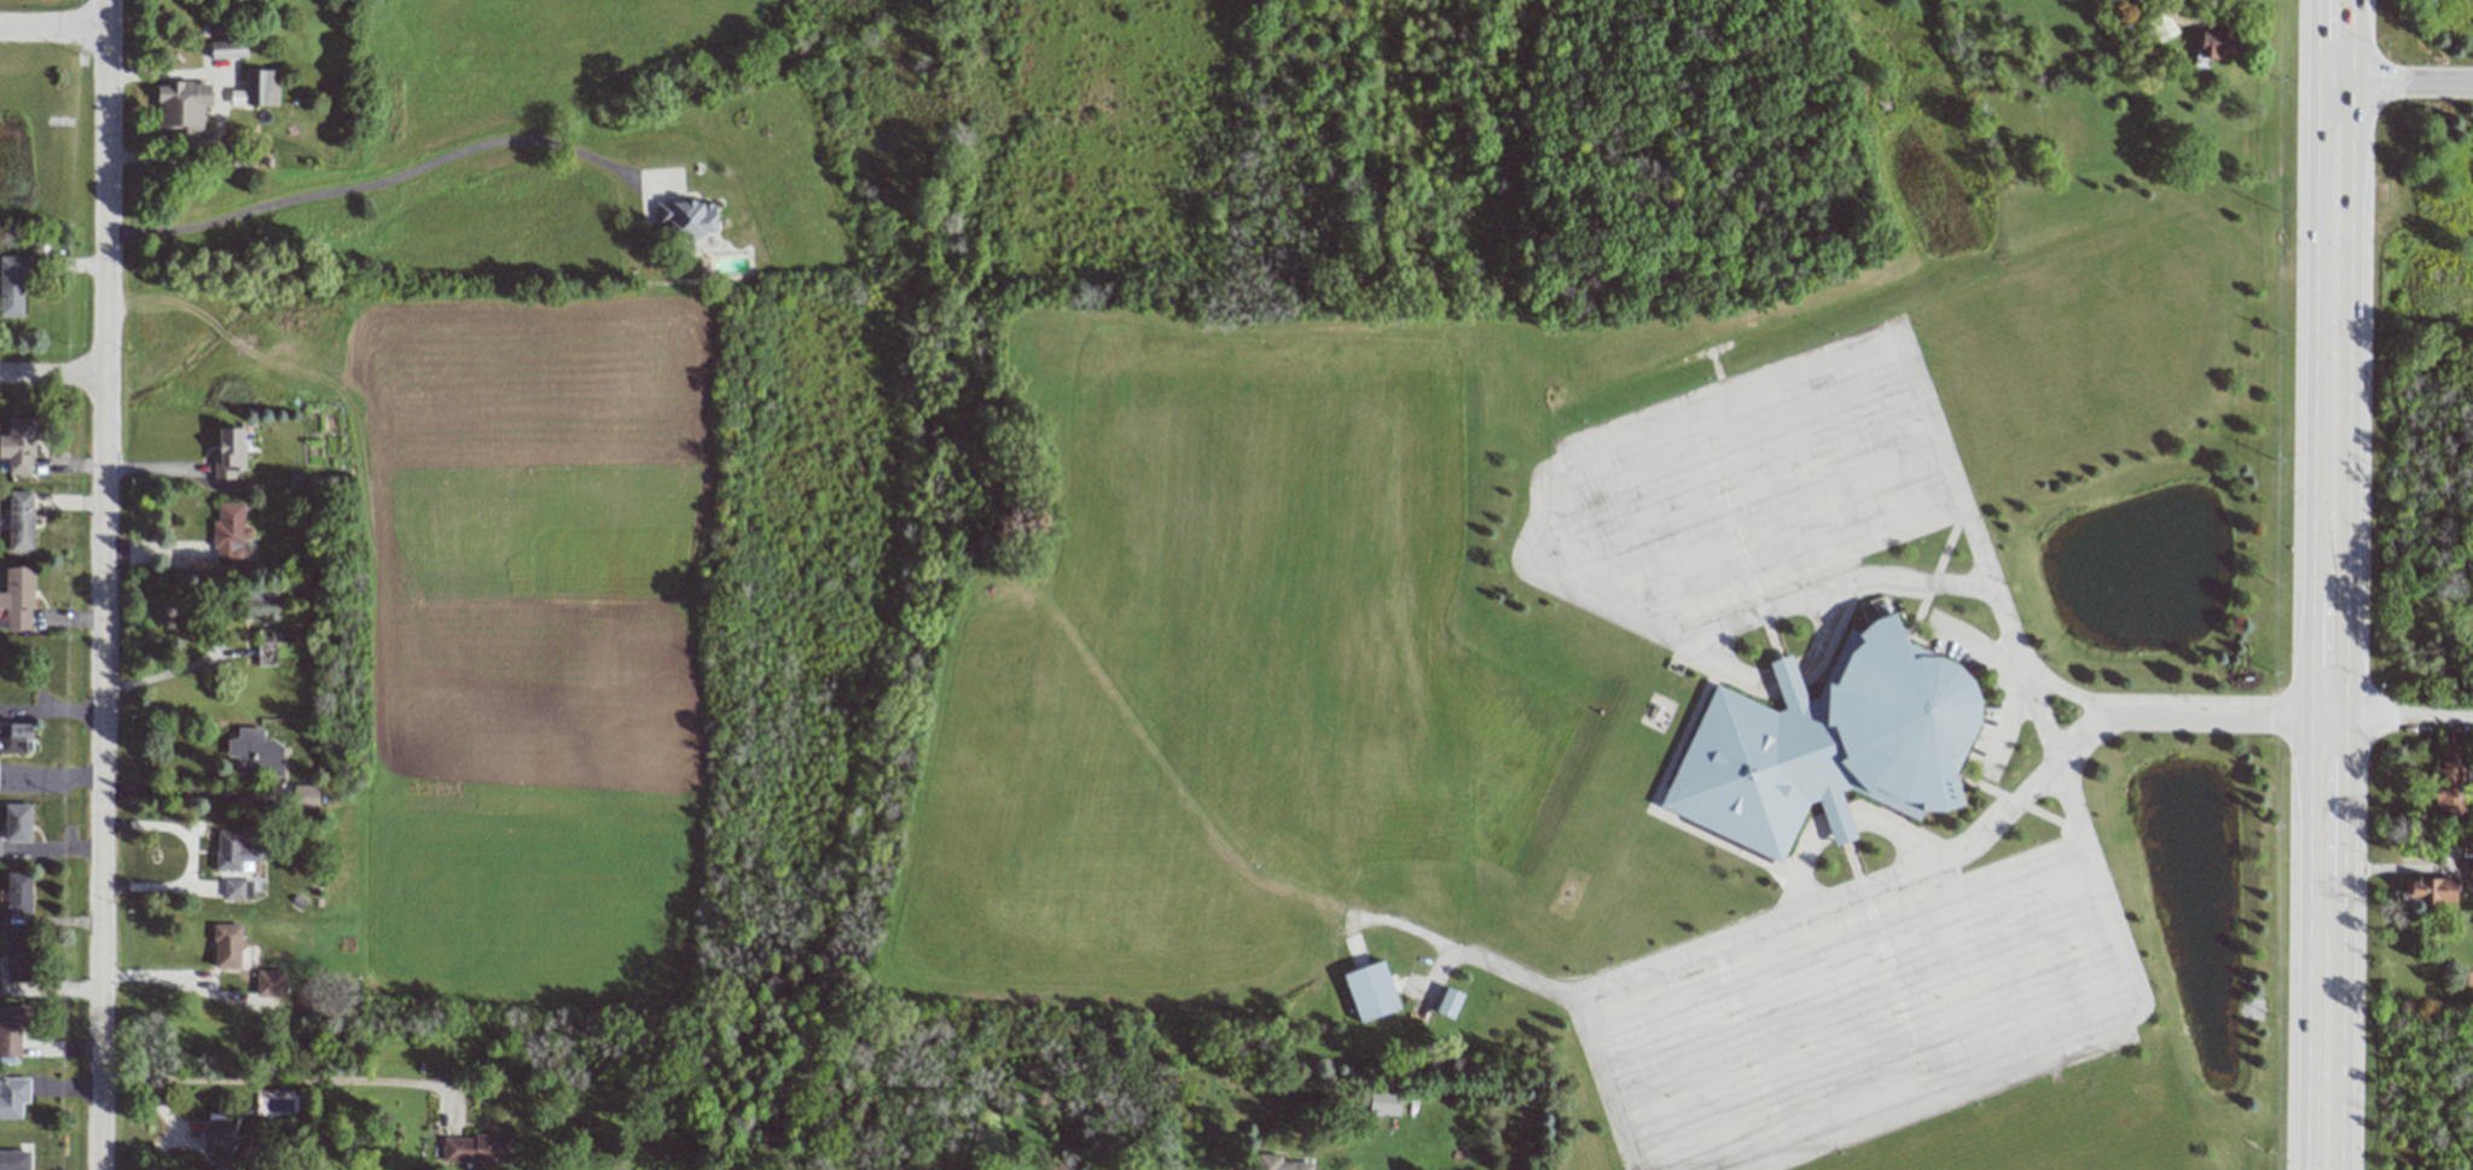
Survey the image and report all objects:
road: (53, 28)
road: (2335, 42)
building: (2219, 43)
building: (227, 48)
road: (2404, 85)
building: (257, 88)
building: (181, 105)
road: (382, 177)
building: (686, 217)
building: (13, 286)
park: (2402, 361)
road: (52, 376)
road: (2332, 401)
road: (1648, 433)
building: (18, 446)
building: (230, 453)
parking lot: (1760, 478)
building: (21, 522)
building: (230, 535)
road: (103, 584)
building: (17, 598)
building: (260, 605)
building: (272, 644)
road: (164, 673)
road: (2399, 717)
building: (16, 738)
building: (1828, 746)
building: (255, 752)
building: (2450, 786)
road: (176, 791)
building: (306, 797)
building: (17, 822)
road: (1840, 830)
building: (233, 851)
building: (2471, 873)
building: (237, 889)
building: (2431, 890)
road: (1869, 891)
building: (18, 892)
road: (2324, 943)
building: (226, 945)
road: (1839, 948)
building: (17, 962)
building: (269, 983)
building: (1370, 991)
road: (1857, 1000)
building: (1449, 1002)
parking lot: (1859, 1009)
building: (11, 1031)
road: (2045, 1046)
road: (1874, 1049)
road: (283, 1076)
road: (1602, 1082)
building: (12, 1096)
building: (1383, 1102)
building: (224, 1145)
building: (476, 1149)
building: (1279, 1163)

